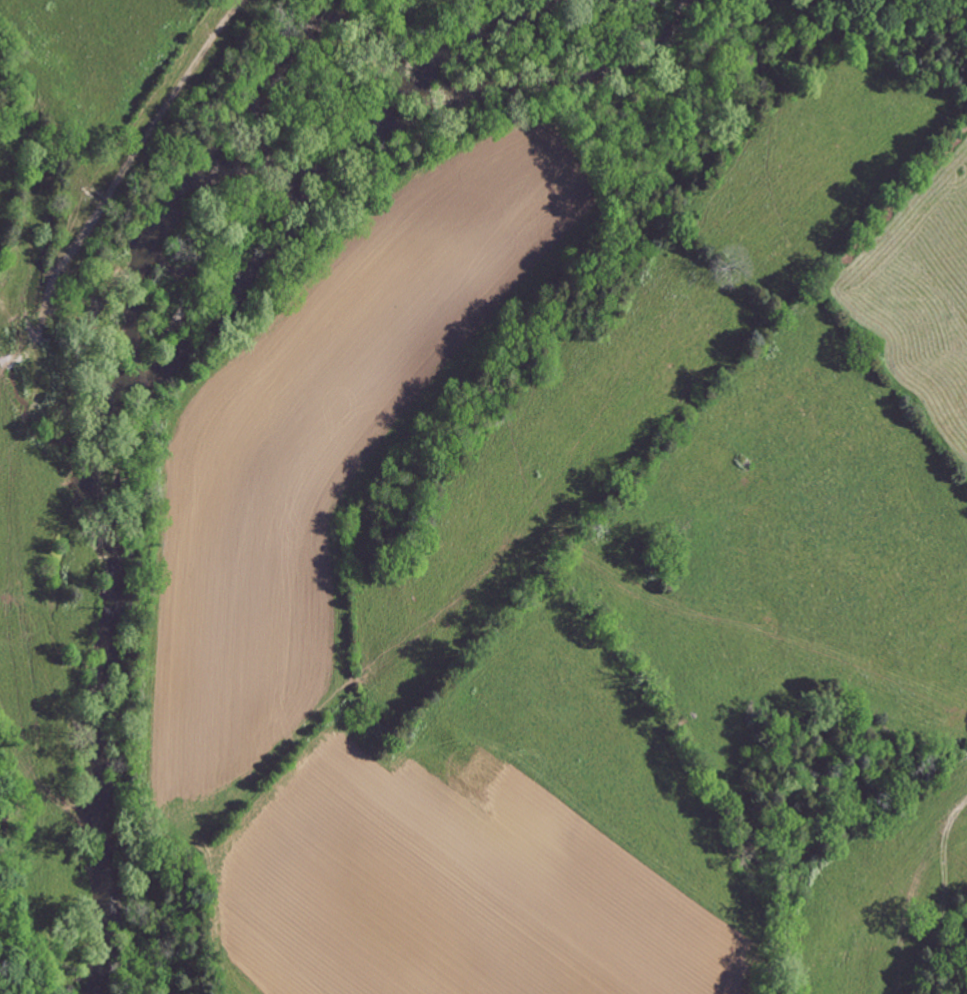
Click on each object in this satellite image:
river: (115, 376)

